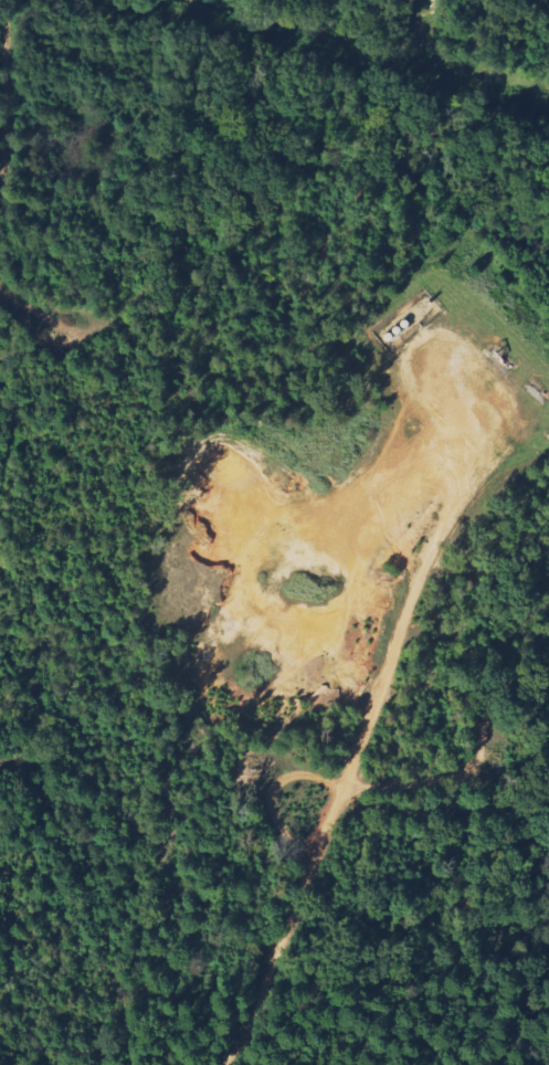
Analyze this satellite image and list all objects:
road: (6, 88)

